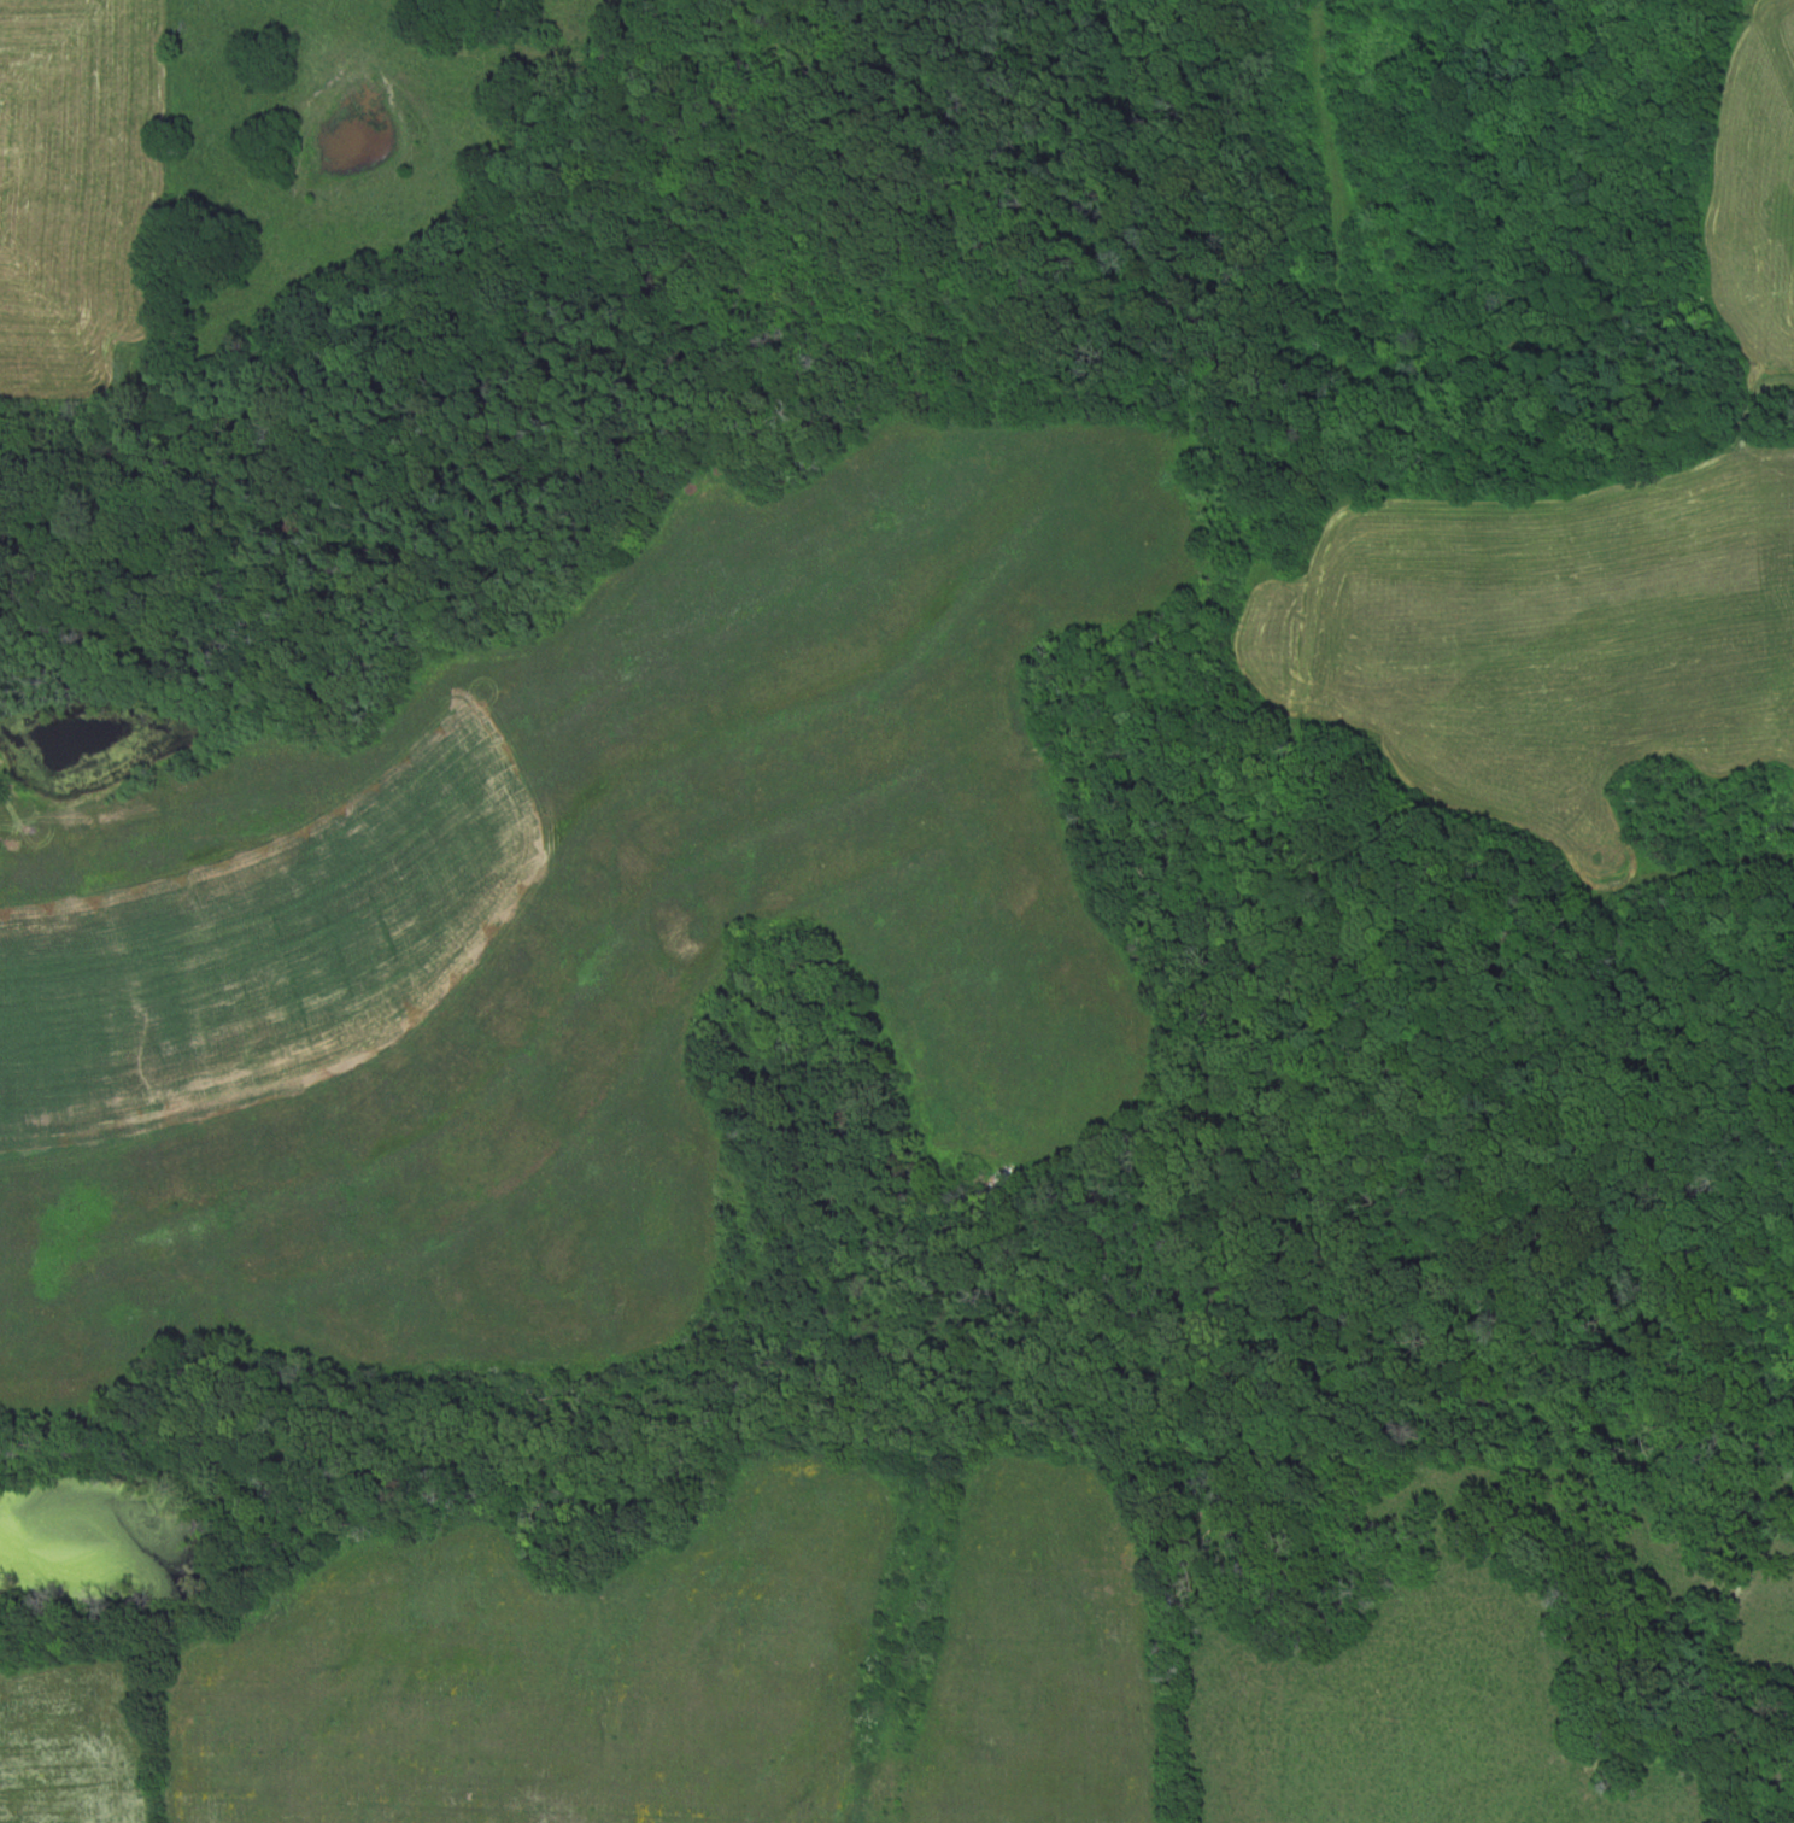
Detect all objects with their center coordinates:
road: (1329, 819)

